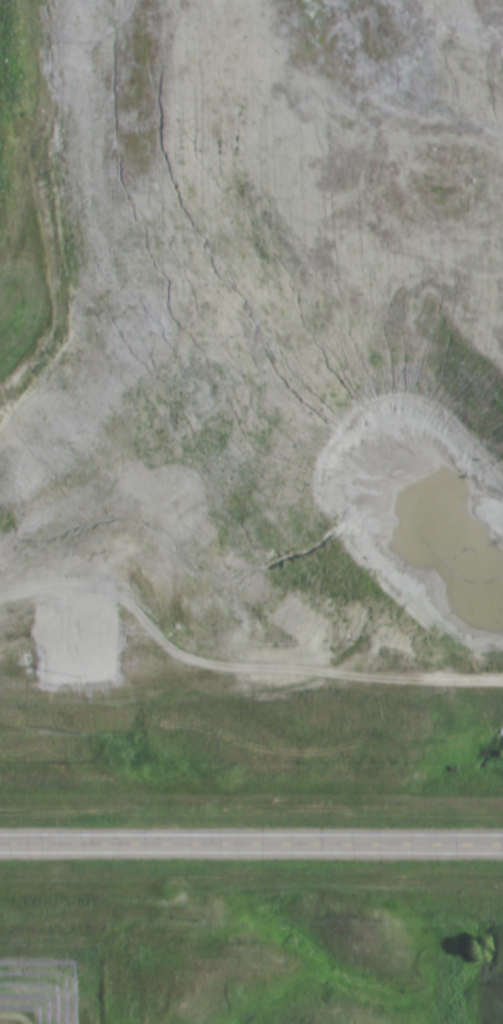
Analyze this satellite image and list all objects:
quarry: (252, 345)
power substation: (80, 646)
road: (251, 845)

